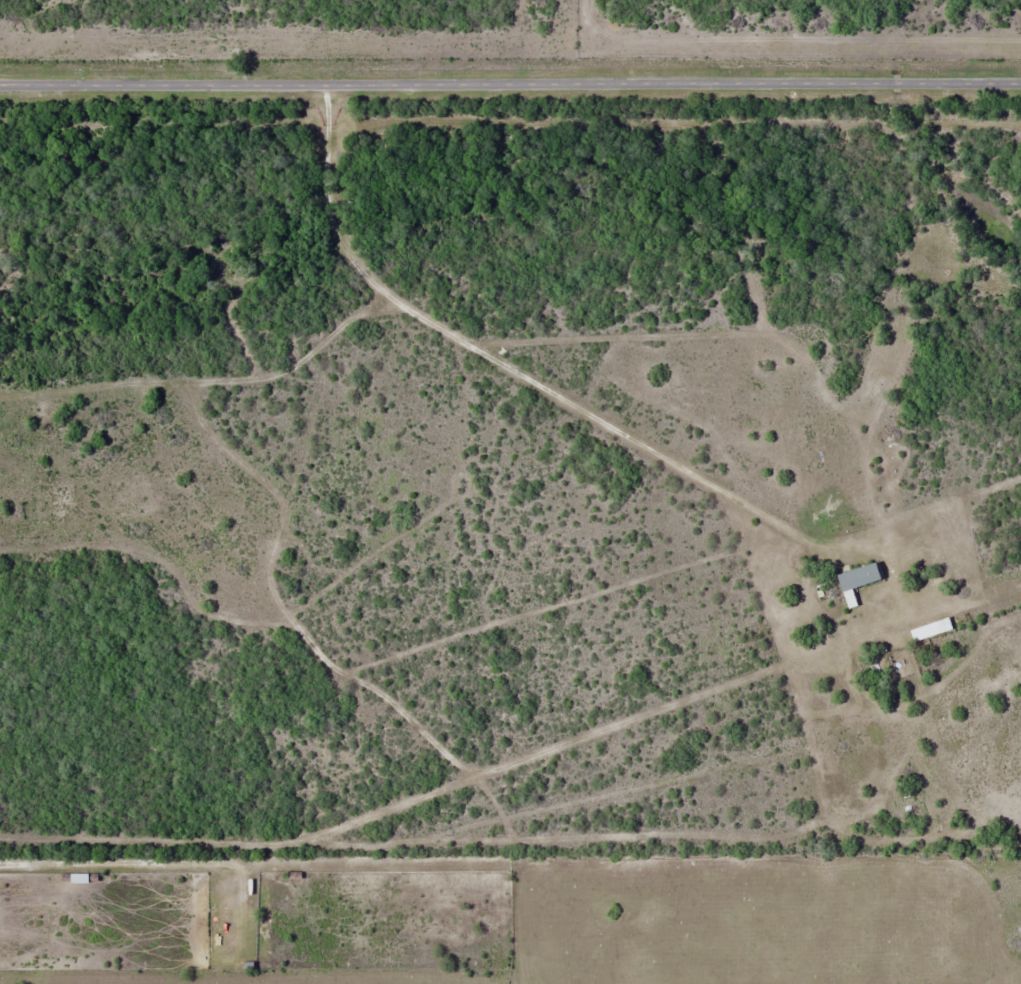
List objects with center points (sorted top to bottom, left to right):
road: (510, 84)
building: (856, 576)
building: (84, 878)

